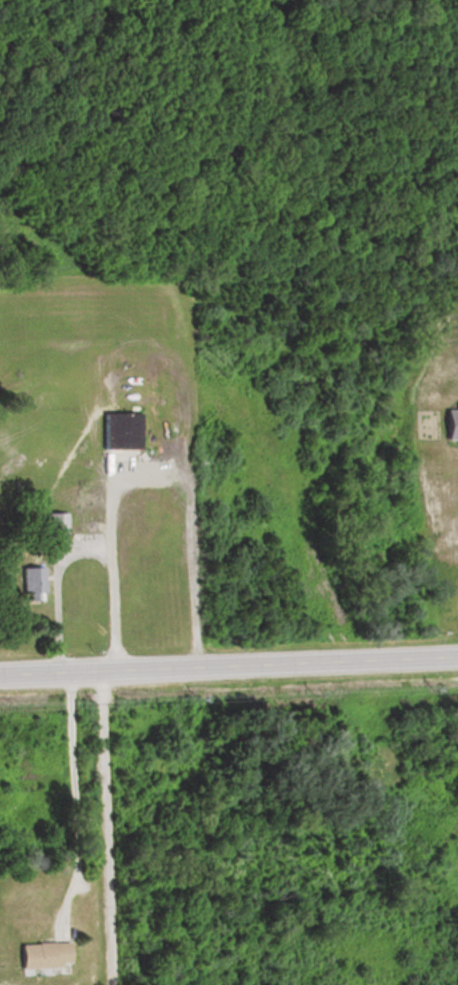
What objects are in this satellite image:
building: (56, 524)
road: (80, 549)
building: (31, 581)
road: (228, 663)
road: (76, 802)
road: (109, 826)
building: (41, 955)

